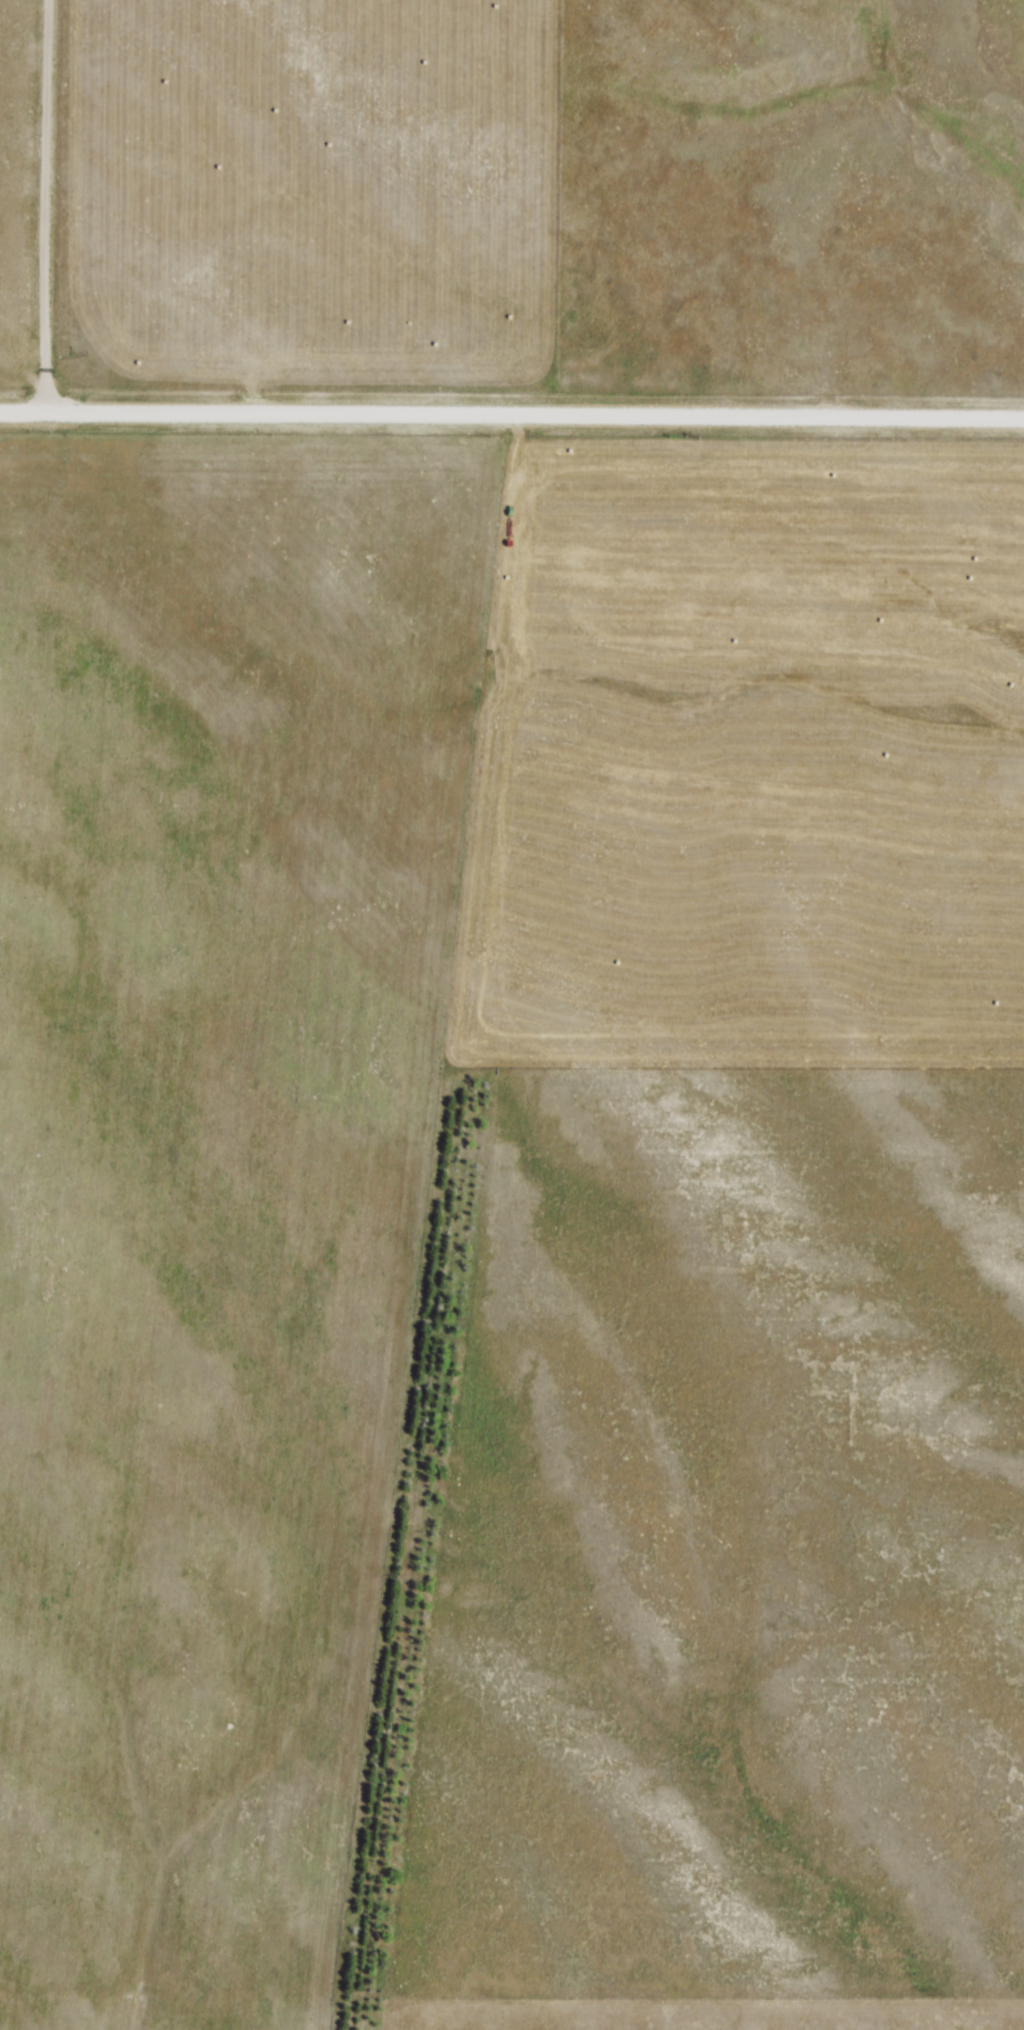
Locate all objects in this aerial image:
road: (47, 203)
road: (511, 413)

